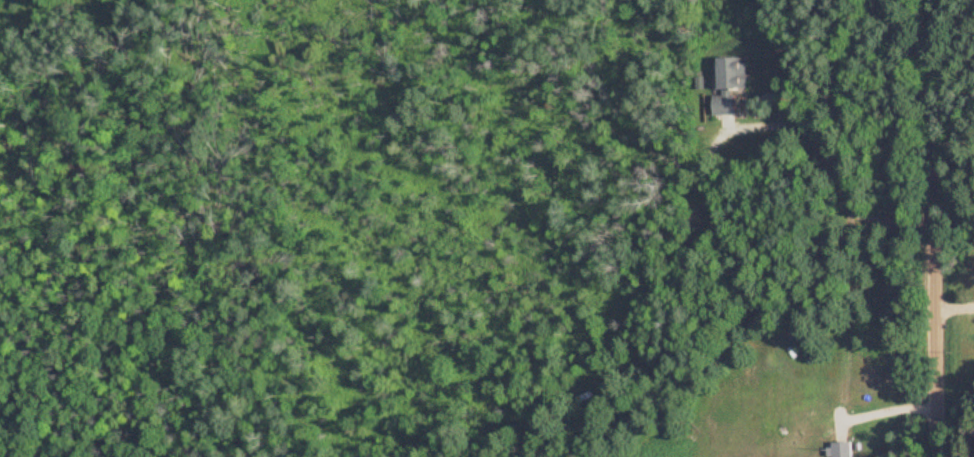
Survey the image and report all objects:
road: (835, 169)
road: (932, 228)
road: (954, 305)
building: (840, 450)

